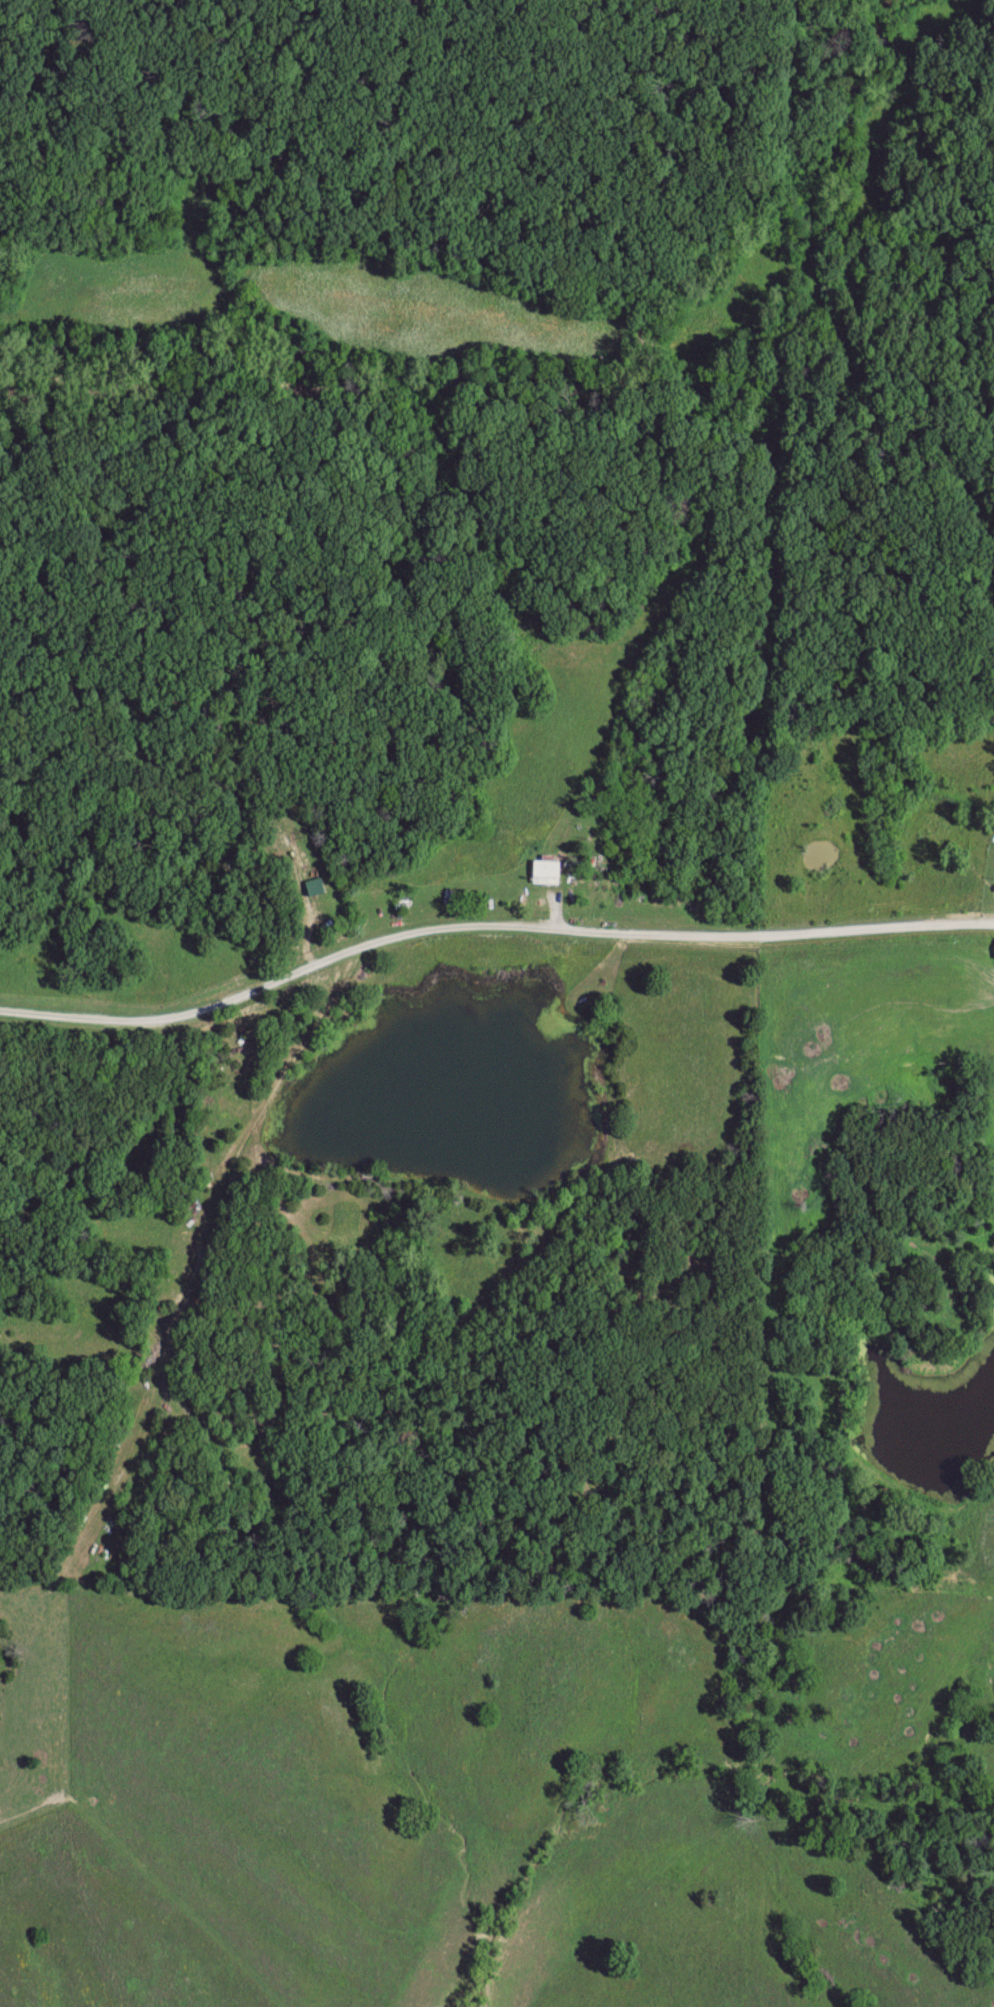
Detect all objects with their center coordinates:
building: (548, 873)
road: (489, 925)

